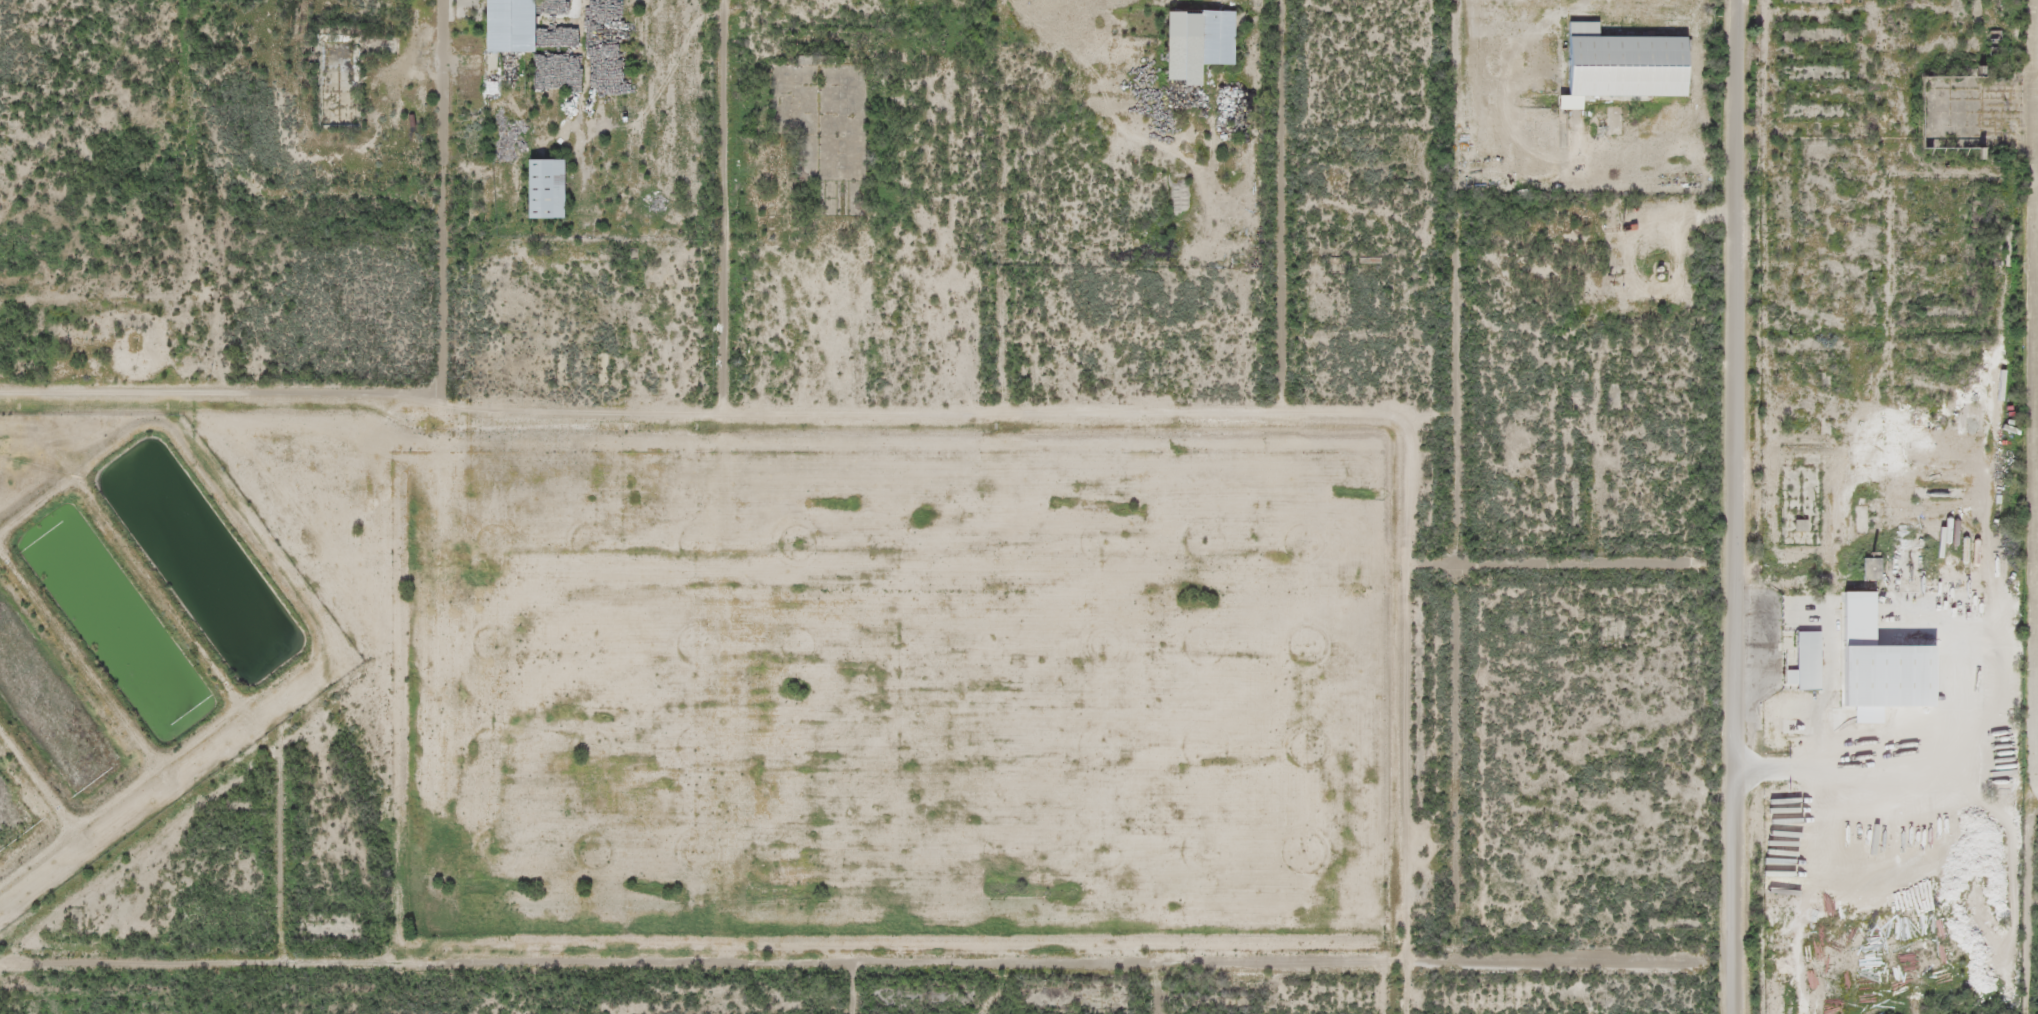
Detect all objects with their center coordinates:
building: (1195, 43)
building: (1619, 67)
road: (443, 197)
road: (717, 200)
road: (219, 392)
road: (440, 394)
airport apron: (2036, 401)
road: (1459, 479)
road: (1734, 506)
airport: (2027, 521)
road: (34, 777)
road: (693, 961)
road: (855, 987)

